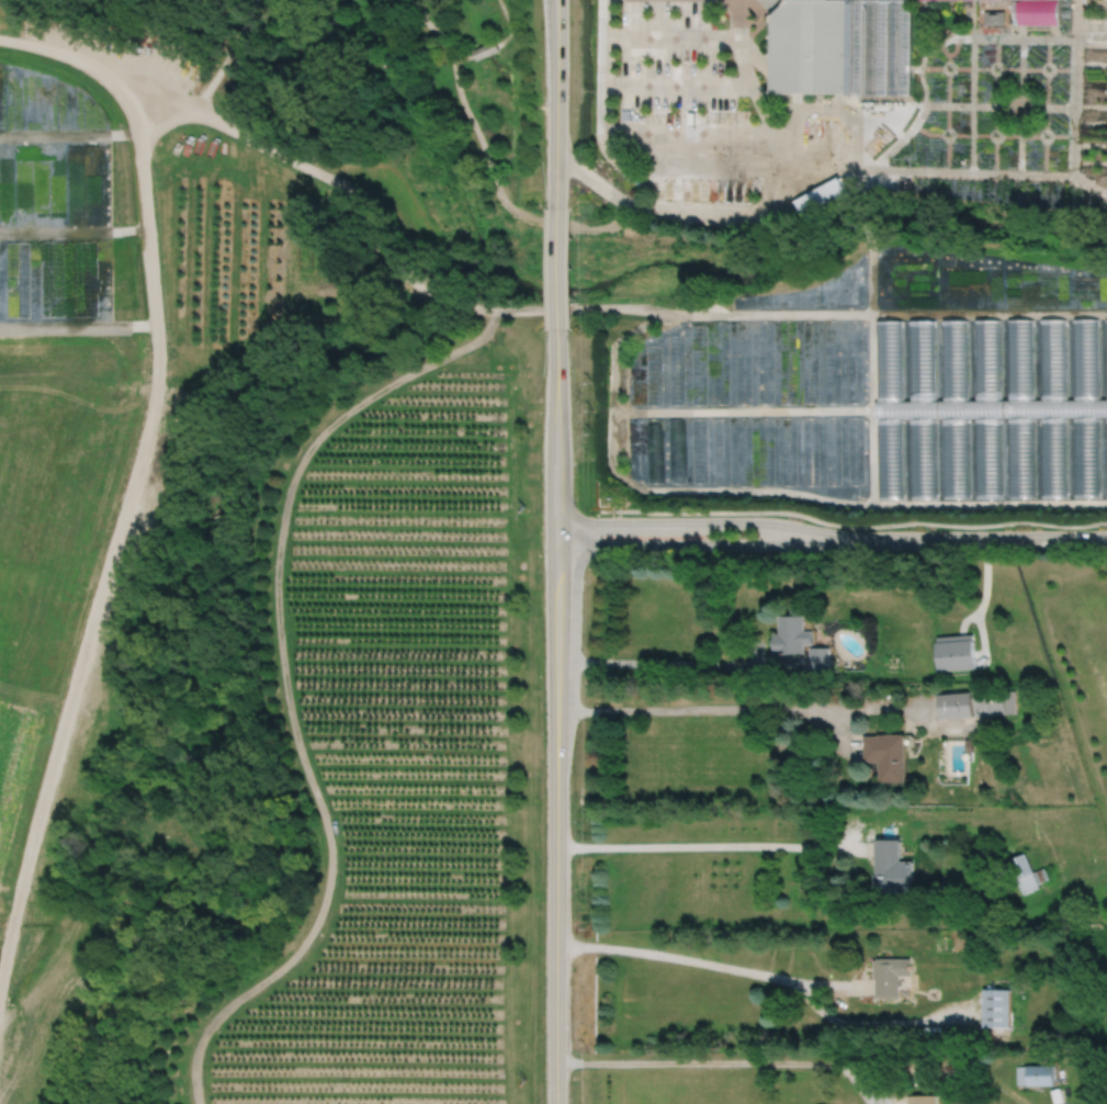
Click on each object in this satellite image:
building: (1038, 12)
building: (994, 16)
road: (671, 37)
building: (878, 46)
building: (809, 47)
parking lot: (671, 58)
road: (90, 68)
road: (678, 85)
road: (556, 102)
road: (165, 120)
road: (637, 134)
road: (669, 149)
road: (783, 158)
road: (670, 198)
building: (822, 198)
road: (354, 199)
road: (676, 213)
road: (148, 269)
road: (557, 270)
road: (908, 313)
road: (77, 376)
building: (1053, 455)
building: (1086, 455)
building: (1106, 455)
building: (890, 457)
building: (923, 457)
building: (956, 457)
building: (987, 457)
building: (1020, 457)
road: (710, 522)
road: (851, 525)
road: (984, 539)
road: (709, 544)
road: (278, 579)
road: (982, 599)
road: (967, 618)
building: (792, 633)
road: (757, 652)
building: (954, 652)
building: (818, 660)
road: (656, 662)
road: (781, 663)
road: (72, 687)
building: (989, 701)
building: (1009, 701)
building: (956, 705)
road: (693, 709)
road: (912, 709)
road: (557, 719)
road: (836, 734)
building: (969, 745)
building: (885, 755)
road: (711, 846)
building: (888, 858)
building: (1025, 874)
road: (677, 957)
building: (890, 977)
road: (832, 983)
building: (997, 1009)
road: (871, 1023)
road: (699, 1062)
road: (908, 1068)
building: (1021, 1074)
building: (1040, 1074)
road: (858, 1084)
building: (1057, 1095)
building: (924, 1099)

